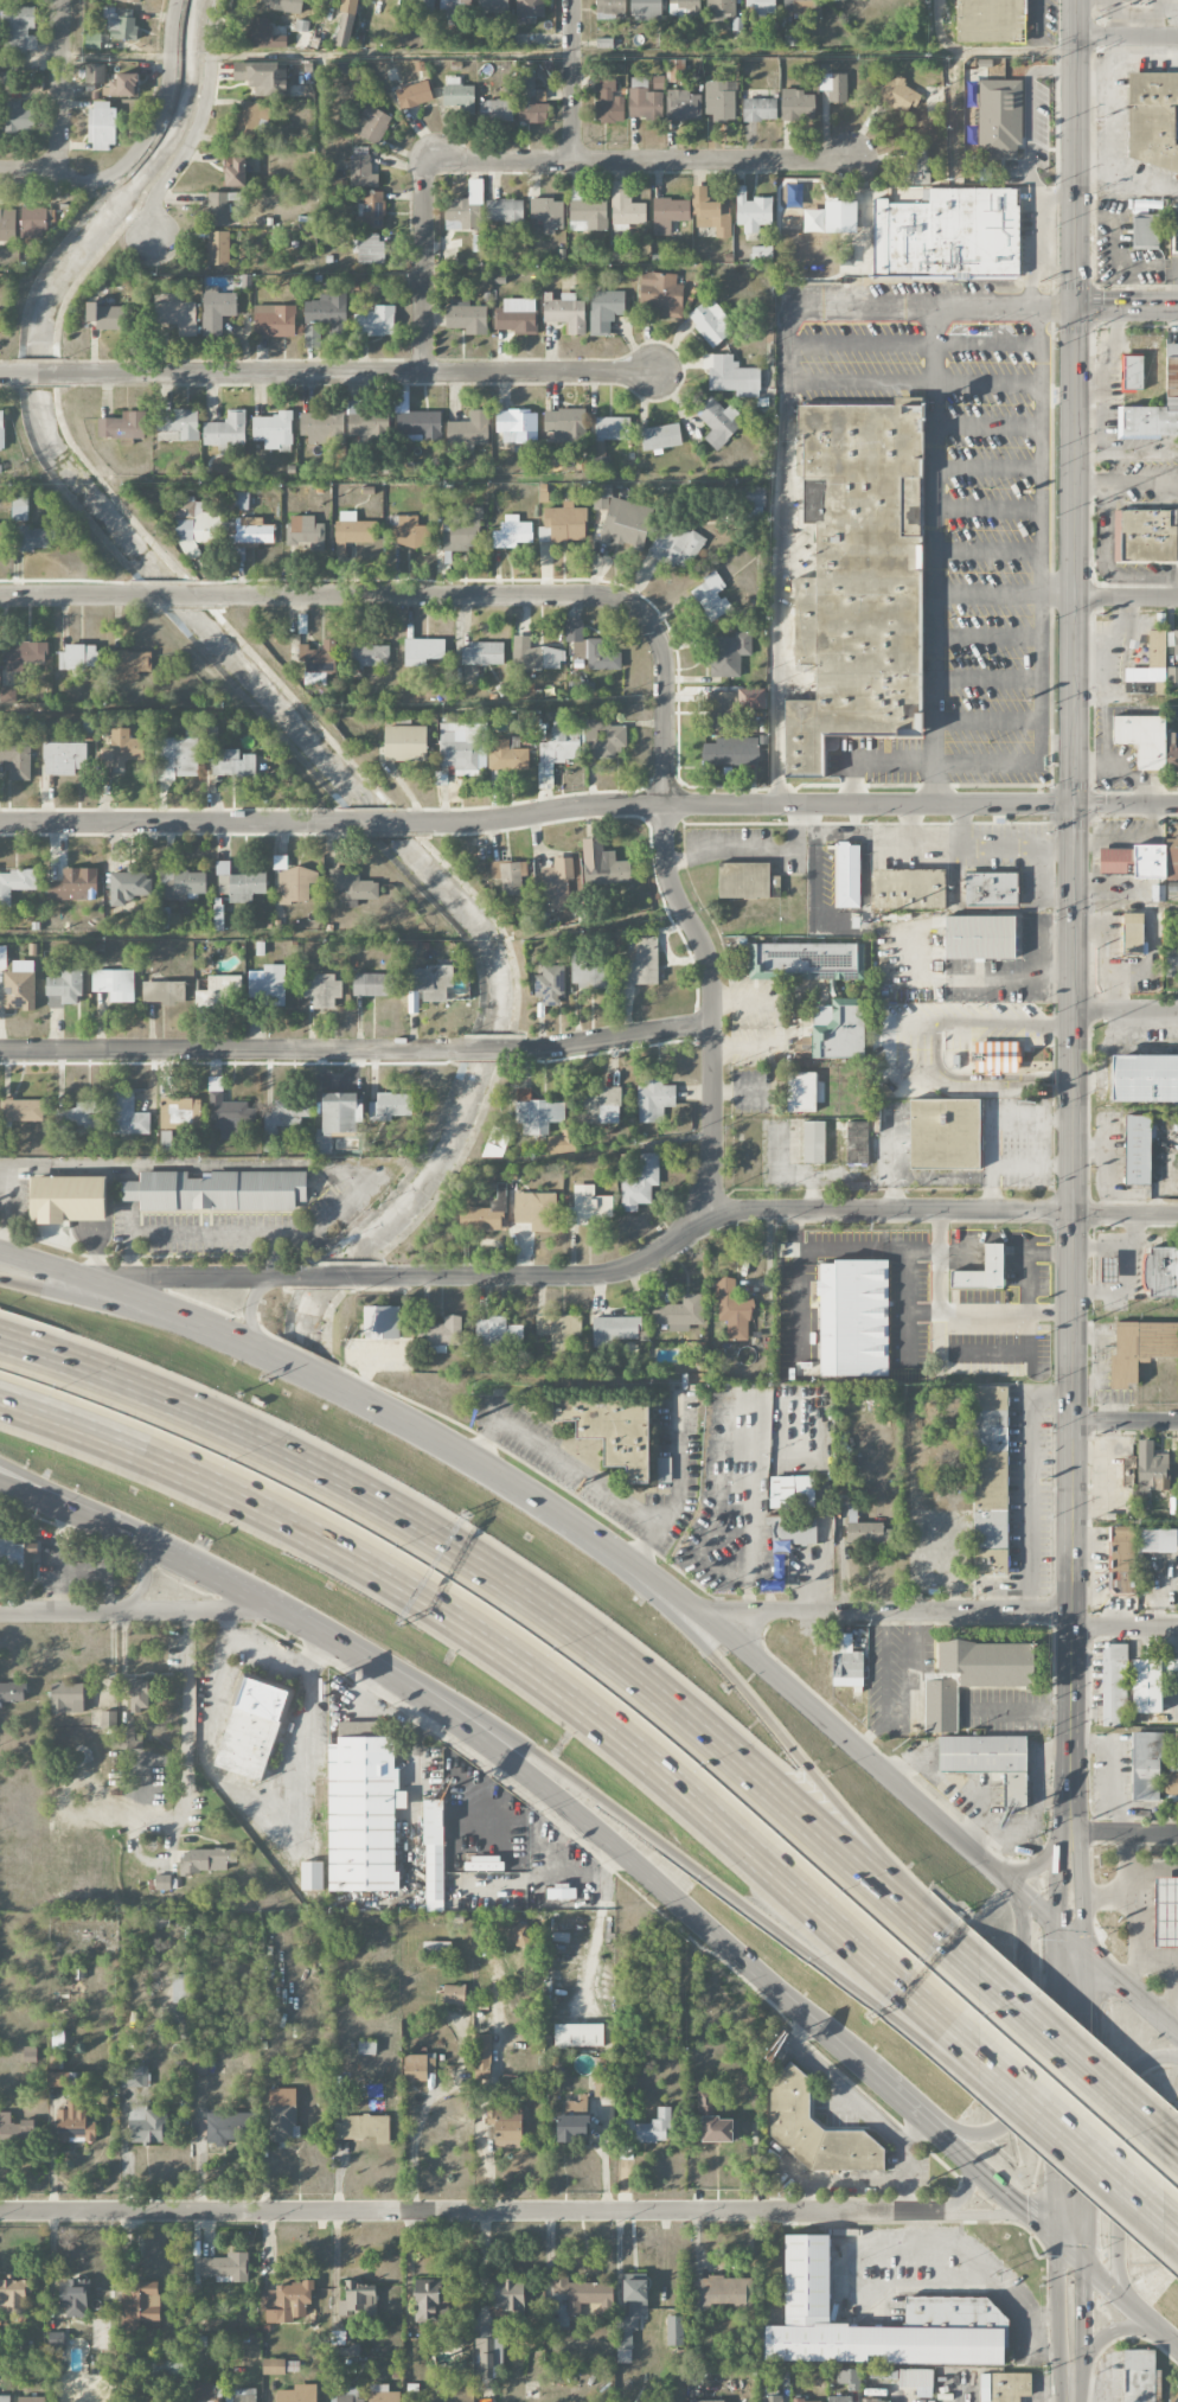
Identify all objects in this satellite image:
building: (136, 0)
building: (391, 0)
building: (836, 1)
building: (284, 5)
building: (428, 6)
building: (492, 6)
building: (762, 7)
building: (804, 7)
building: (456, 8)
building: (610, 8)
building: (684, 8)
building: (646, 9)
building: (721, 9)
building: (529, 11)
road: (1161, 18)
power tower: (1094, 19)
building: (990, 20)
building: (345, 23)
building: (120, 25)
building: (20, 27)
building: (264, 34)
building: (792, 37)
road: (1126, 37)
road: (986, 51)
road: (390, 53)
building: (95, 72)
building: (262, 78)
road: (571, 79)
building: (121, 84)
building: (834, 85)
road: (59, 87)
building: (897, 94)
building: (414, 95)
building: (457, 95)
building: (646, 98)
building: (531, 100)
building: (718, 101)
building: (608, 103)
building: (683, 104)
building: (796, 104)
building: (758, 109)
building: (495, 110)
building: (19, 116)
building: (999, 117)
building: (1152, 119)
building: (251, 120)
building: (373, 123)
building: (102, 124)
road: (154, 124)
road: (194, 130)
road: (1029, 132)
road: (1075, 153)
road: (640, 160)
building: (916, 166)
building: (233, 171)
building: (363, 172)
road: (30, 173)
building: (625, 207)
building: (217, 209)
building: (372, 210)
building: (466, 210)
building: (587, 211)
building: (711, 211)
building: (753, 211)
building: (506, 212)
building: (548, 213)
building: (668, 213)
building: (840, 216)
building: (34, 222)
building: (7, 224)
building: (1144, 231)
building: (947, 234)
building: (1174, 237)
road: (1032, 245)
building: (218, 248)
building: (370, 248)
building: (762, 251)
road: (423, 266)
power tower: (1094, 282)
building: (661, 293)
traffic signals: (1075, 306)
road: (1126, 306)
building: (216, 309)
building: (327, 311)
building: (604, 311)
building: (564, 312)
building: (175, 313)
building: (104, 317)
building: (466, 317)
building: (0, 320)
building: (274, 320)
building: (516, 320)
building: (376, 321)
building: (711, 321)
building: (312, 336)
road: (789, 343)
road: (358, 371)
building: (1131, 372)
road: (39, 375)
building: (730, 375)
road: (9, 376)
road: (990, 379)
building: (1154, 408)
building: (718, 422)
building: (420, 423)
building: (178, 424)
building: (367, 424)
building: (565, 424)
building: (122, 426)
building: (321, 426)
building: (517, 426)
building: (1, 428)
building: (613, 428)
building: (469, 429)
building: (226, 430)
building: (274, 430)
building: (660, 436)
building: (597, 448)
road: (937, 451)
road: (1125, 458)
road: (1089, 481)
road: (1142, 481)
building: (753, 496)
power tower: (1094, 504)
building: (19, 505)
road: (990, 509)
building: (621, 518)
building: (194, 524)
building: (563, 524)
road: (1106, 528)
building: (354, 529)
building: (461, 530)
building: (254, 531)
building: (306, 531)
building: (406, 531)
building: (512, 532)
building: (0, 534)
building: (1146, 536)
building: (36, 537)
parking lot: (965, 541)
building: (677, 545)
road: (990, 550)
road: (1073, 555)
road: (1141, 574)
building: (858, 577)
road: (431, 593)
road: (779, 593)
road: (73, 595)
road: (179, 595)
building: (710, 596)
road: (1126, 596)
building: (1176, 643)
building: (590, 647)
road: (1041, 650)
building: (422, 651)
building: (481, 653)
building: (728, 653)
building: (24, 654)
building: (370, 654)
building: (534, 654)
building: (78, 656)
building: (318, 657)
building: (129, 664)
building: (1148, 669)
building: (1172, 675)
building: (314, 678)
building: (7, 694)
road: (935, 699)
road: (1125, 701)
building: (731, 707)
building: (1, 727)
building: (604, 737)
building: (1142, 739)
building: (404, 742)
building: (562, 742)
building: (462, 747)
building: (120, 749)
building: (730, 750)
building: (1171, 752)
building: (506, 756)
building: (63, 758)
building: (177, 758)
building: (15, 759)
building: (231, 764)
power tower: (1093, 788)
road: (742, 806)
traffic signals: (1073, 806)
road: (1125, 806)
road: (179, 823)
road: (386, 824)
road: (959, 826)
parking lot: (1127, 831)
road: (907, 833)
road: (990, 847)
building: (1171, 849)
road: (753, 850)
building: (1129, 861)
building: (602, 864)
building: (849, 874)
building: (510, 876)
building: (293, 881)
building: (747, 881)
building: (558, 882)
building: (15, 883)
building: (183, 883)
building: (238, 883)
building: (73, 884)
building: (352, 884)
building: (127, 887)
building: (909, 888)
road: (1042, 888)
building: (992, 889)
building: (1172, 890)
building: (1158, 893)
road: (1125, 907)
road: (685, 913)
building: (1128, 935)
building: (980, 937)
road: (1042, 948)
building: (2, 956)
building: (806, 960)
building: (1171, 960)
building: (640, 963)
building: (959, 966)
parking lot: (1006, 970)
building: (590, 972)
road: (1004, 979)
building: (428, 983)
building: (114, 984)
building: (373, 984)
building: (267, 985)
building: (549, 985)
building: (64, 988)
building: (18, 990)
building: (322, 990)
building: (166, 991)
building: (222, 992)
road: (1125, 1010)
road: (779, 1023)
power tower: (1091, 1028)
building: (834, 1030)
parking lot: (954, 1031)
road: (613, 1039)
road: (235, 1050)
road: (491, 1050)
road: (890, 1050)
building: (995, 1058)
building: (1145, 1079)
building: (801, 1092)
building: (654, 1100)
building: (390, 1106)
building: (602, 1106)
road: (1125, 1106)
building: (21, 1110)
building: (180, 1111)
building: (536, 1112)
building: (283, 1113)
building: (81, 1114)
building: (128, 1116)
building: (229, 1116)
building: (337, 1119)
road: (991, 1124)
building: (945, 1135)
building: (165, 1141)
building: (562, 1142)
building: (813, 1142)
parking lot: (1017, 1142)
building: (497, 1143)
building: (857, 1143)
building: (1138, 1151)
road: (889, 1162)
road: (1031, 1164)
building: (640, 1182)
building: (217, 1190)
building: (66, 1199)
building: (588, 1206)
building: (536, 1210)
road: (706, 1212)
building: (486, 1213)
road: (1125, 1213)
road: (232, 1232)
road: (1100, 1248)
road: (844, 1253)
road: (958, 1253)
road: (274, 1256)
road: (1024, 1258)
building: (1109, 1269)
building: (982, 1270)
building: (1159, 1272)
road: (198, 1279)
road: (335, 1279)
road: (1127, 1279)
road: (127, 1295)
road: (905, 1296)
road: (798, 1298)
building: (732, 1309)
building: (680, 1311)
road: (954, 1314)
road: (124, 1315)
building: (853, 1317)
road: (1071, 1318)
road: (1125, 1318)
building: (380, 1321)
power tower: (1091, 1321)
building: (614, 1329)
building: (561, 1331)
building: (441, 1334)
building: (495, 1336)
road: (907, 1336)
building: (1140, 1348)
road: (376, 1405)
road: (1125, 1422)
building: (612, 1430)
road: (678, 1463)
building: (1151, 1470)
building: (1128, 1471)
road: (580, 1474)
building: (991, 1480)
road: (1027, 1482)
building: (792, 1491)
road: (92, 1508)
road: (748, 1512)
road: (91, 1522)
road: (1125, 1523)
building: (864, 1529)
building: (1158, 1540)
building: (17, 1559)
building: (1122, 1560)
building: (779, 1561)
road: (520, 1590)
road: (274, 1608)
road: (890, 1609)
road: (135, 1611)
power tower: (1090, 1614)
road: (1123, 1627)
road: (271, 1652)
building: (846, 1662)
road: (910, 1665)
road: (761, 1666)
road: (530, 1670)
building: (973, 1675)
road: (356, 1685)
road: (885, 1685)
building: (1114, 1685)
building: (1147, 1687)
building: (12, 1692)
building: (139, 1694)
building: (66, 1697)
road: (748, 1699)
road: (1020, 1708)
building: (108, 1719)
road: (896, 1721)
building: (254, 1726)
road: (187, 1731)
building: (128, 1738)
building: (988, 1761)
building: (1145, 1767)
building: (1171, 1787)
building: (361, 1810)
power tower: (1090, 1819)
road: (1123, 1833)
road: (622, 1852)
building: (433, 1855)
road: (673, 1859)
building: (206, 1860)
road: (1131, 1861)
building: (482, 1864)
road: (1154, 1868)
road: (1025, 1872)
building: (310, 1876)
road: (1058, 1878)
building: (162, 1883)
road: (1081, 1887)
building: (561, 1893)
traffic signals: (1058, 1899)
road: (1032, 1905)
road: (1135, 1912)
building: (1165, 1912)
gas station: (1165, 1912)
building: (161, 1919)
building: (519, 1934)
road: (1070, 1936)
building: (436, 1948)
traffic signals: (1100, 1962)
road: (973, 1967)
road: (1158, 1970)
traffic signals: (1083, 1986)
road: (1129, 1986)
building: (181, 1988)
building: (453, 1994)
road: (1169, 2000)
building: (184, 2019)
building: (577, 2034)
road: (1016, 2045)
building: (366, 2048)
road: (1074, 2055)
building: (482, 2057)
building: (199, 2063)
building: (418, 2066)
road: (1083, 2071)
building: (135, 2075)
building: (58, 2078)
road: (1058, 2082)
building: (602, 2085)
road: (895, 2094)
building: (705, 2101)
building: (283, 2114)
building: (574, 2121)
building: (73, 2125)
building: (147, 2125)
building: (505, 2125)
building: (363, 2127)
building: (648, 2127)
building: (14, 2128)
building: (717, 2129)
building: (815, 2129)
building: (216, 2131)
road: (1073, 2141)
road: (1173, 2141)
road: (412, 2148)
road: (1119, 2160)
road: (1070, 2172)
road: (992, 2179)
road: (965, 2191)
road: (981, 2210)
road: (467, 2211)
traffic signals: (1059, 2212)
traffic signals: (1035, 2217)
road: (1172, 2225)
road: (1083, 2229)
road: (1071, 2250)
road: (1174, 2263)
road: (1059, 2266)
building: (225, 2267)
road: (960, 2279)
road: (1108, 2282)
traffic signals: (1084, 2285)
building: (723, 2292)
building: (12, 2294)
building: (583, 2294)
building: (71, 2295)
building: (508, 2295)
building: (288, 2298)
building: (358, 2300)
building: (430, 2300)
building: (137, 2304)
road: (1083, 2310)
building: (954, 2311)
building: (629, 2313)
road: (1154, 2324)
road: (1127, 2328)
building: (674, 2331)
building: (338, 2339)
road: (1059, 2342)
building: (216, 2343)
building: (350, 2350)
building: (487, 2353)
building: (293, 2365)
building: (273, 2366)
building: (162, 2368)
road: (1078, 2374)
building: (1140, 2376)
building: (849, 2378)
building: (917, 2381)
building: (1010, 2387)
building: (203, 2393)
building: (296, 2394)
building: (383, 2394)
building: (241, 2395)
building: (348, 2395)
road: (1073, 2395)
building: (5, 2397)
building: (30, 2398)
building: (772, 2398)
building: (839, 2398)
building: (875, 2400)
building: (705, 2401)
building: (806, 2401)

